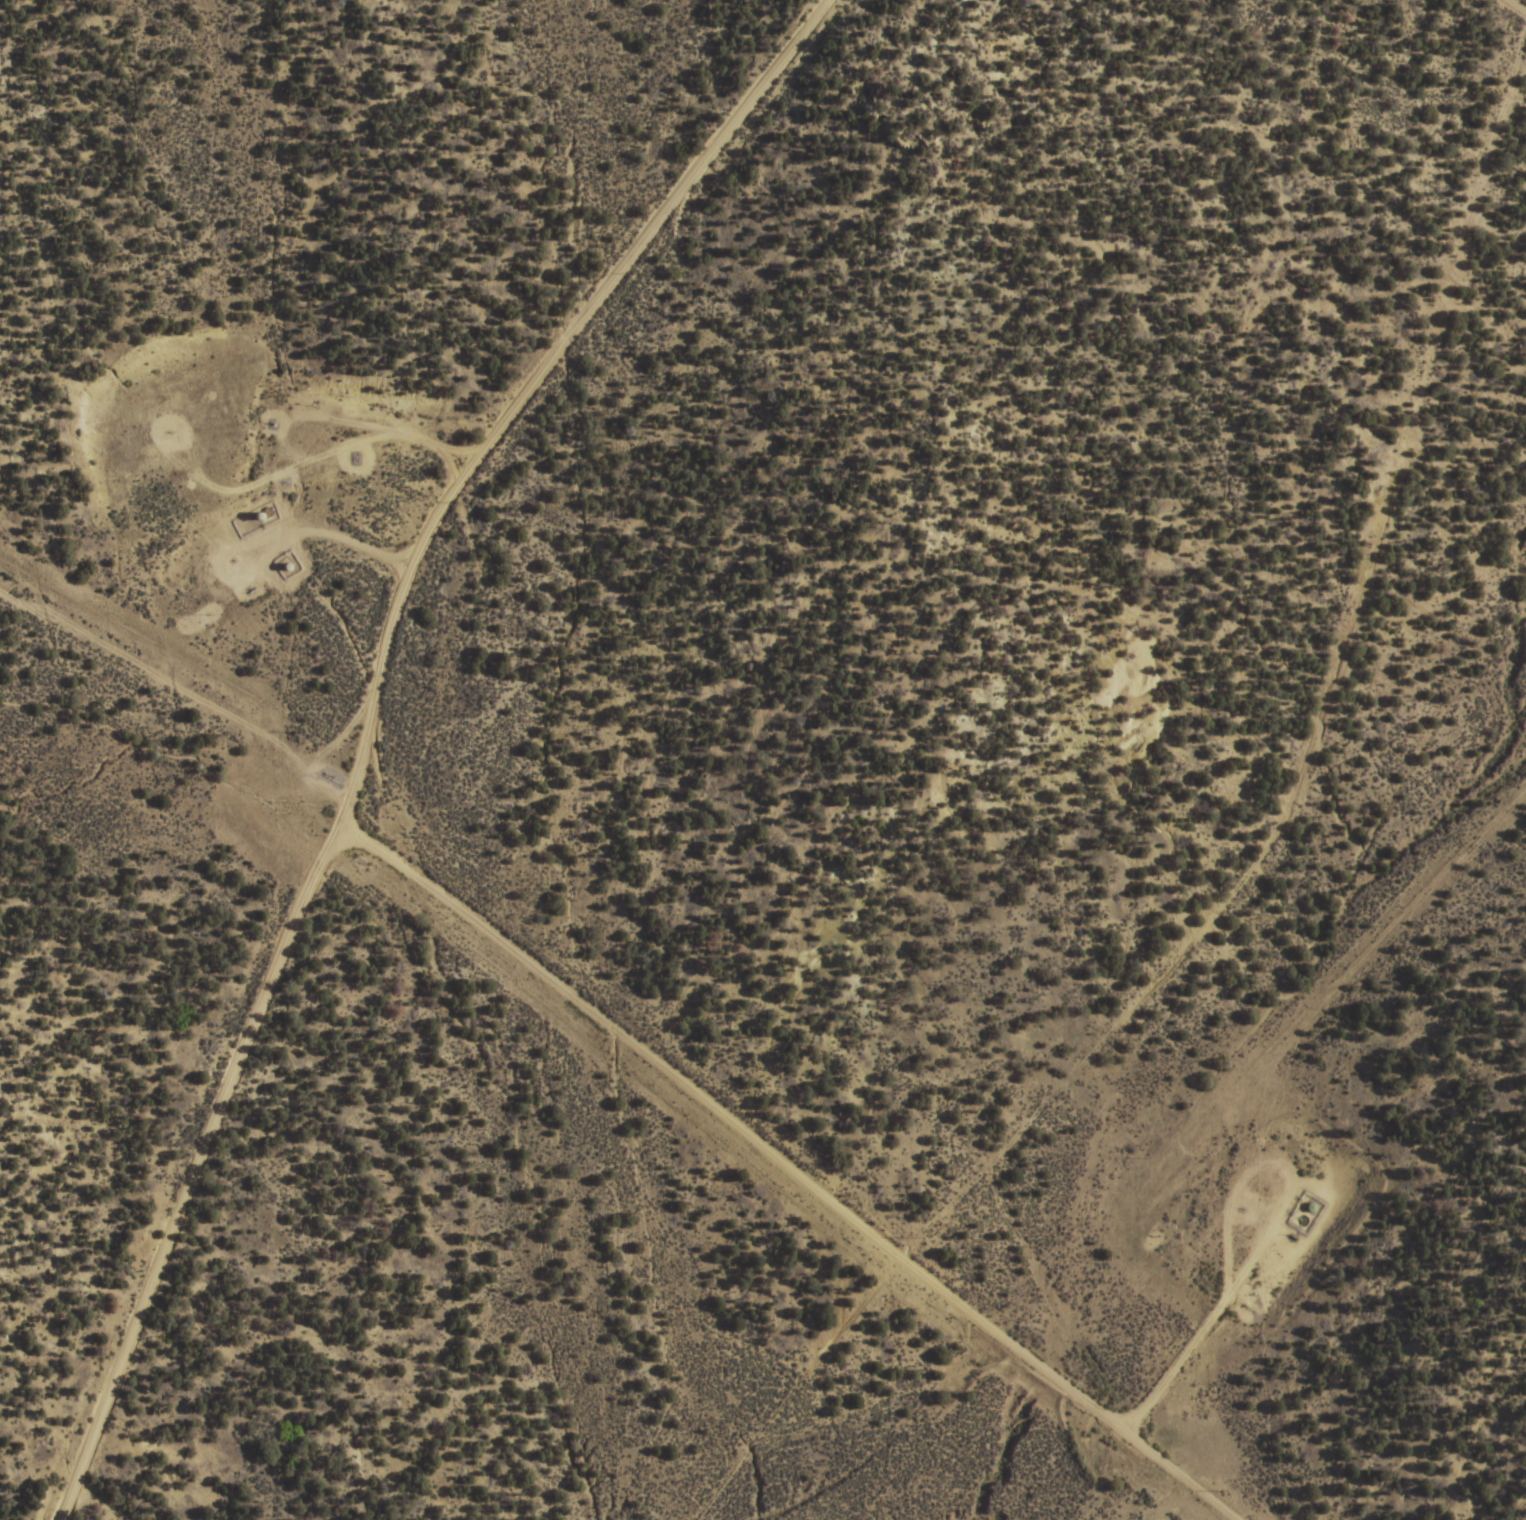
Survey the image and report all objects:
road: (1512, 8)
road: (174, 686)
road: (371, 716)
road: (761, 1161)
road: (1228, 1415)
river: (997, 1469)

